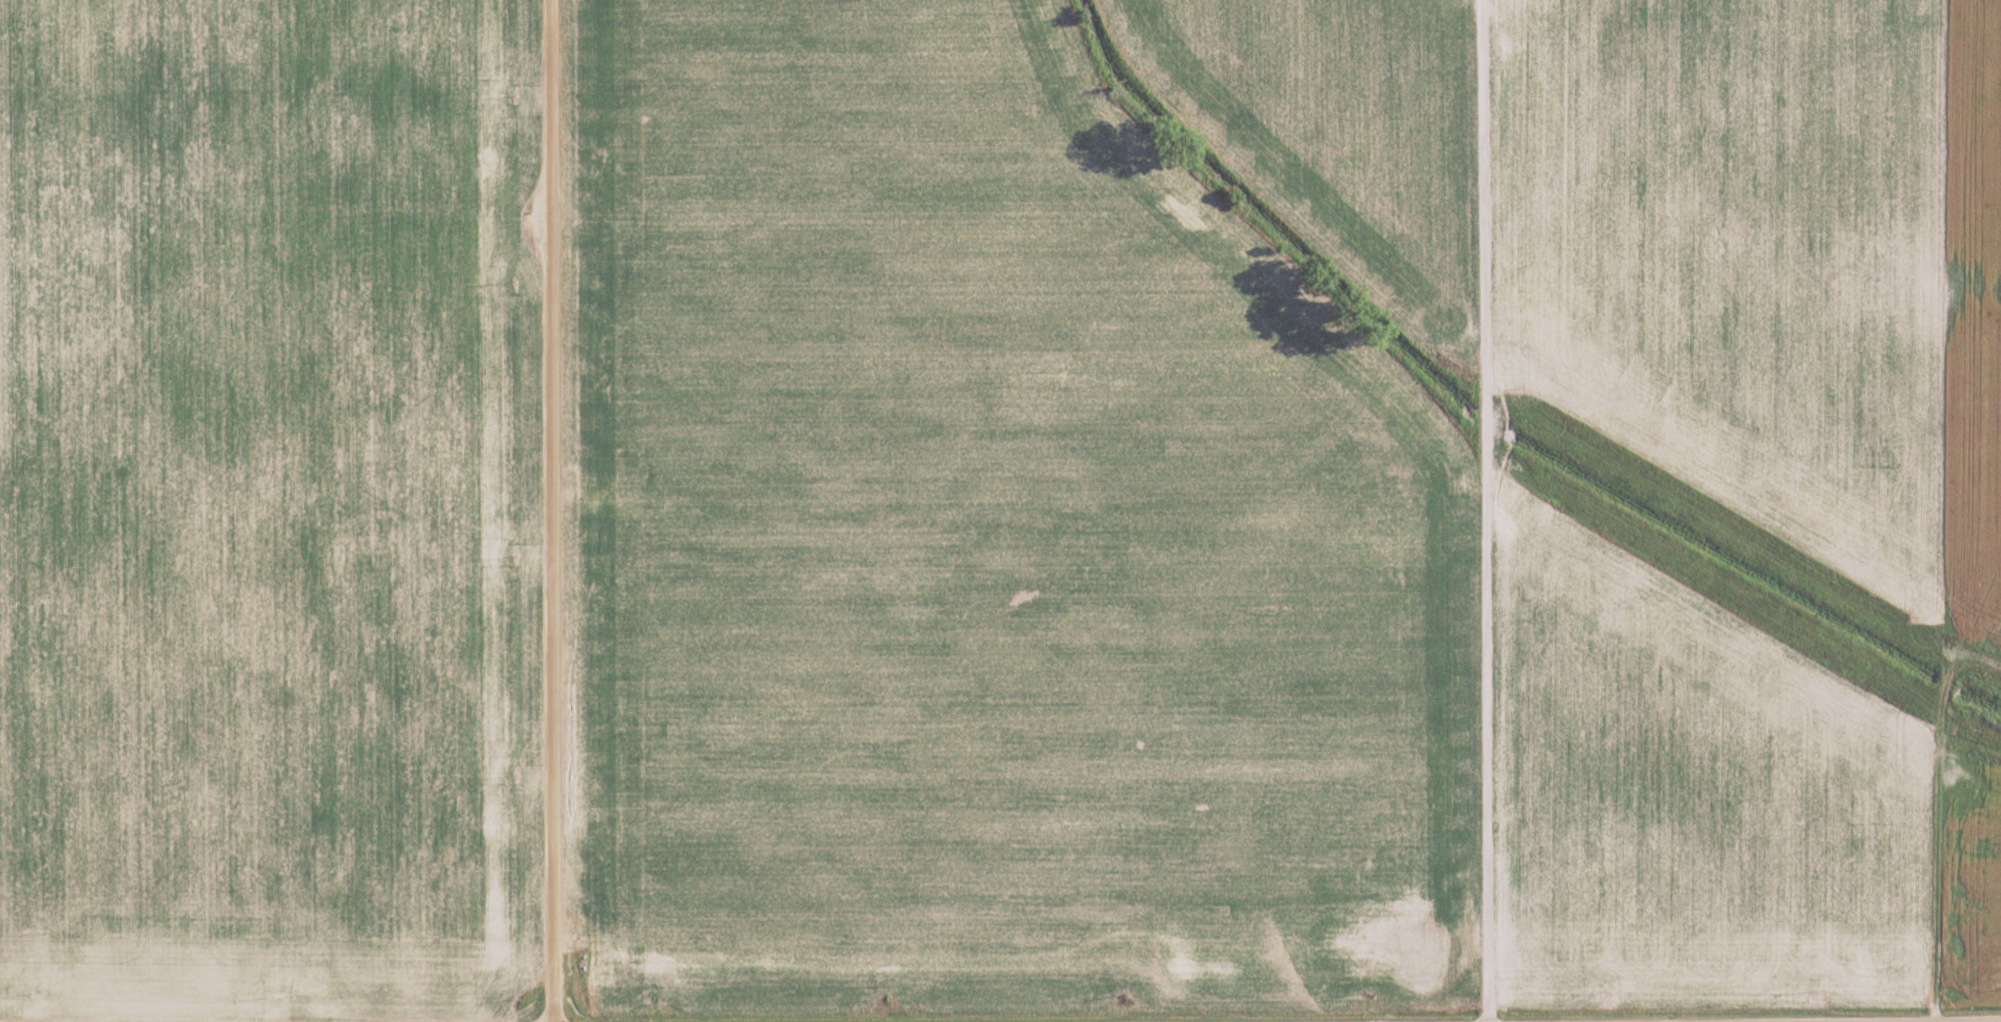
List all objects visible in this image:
road: (550, 511)
road: (1465, 511)

